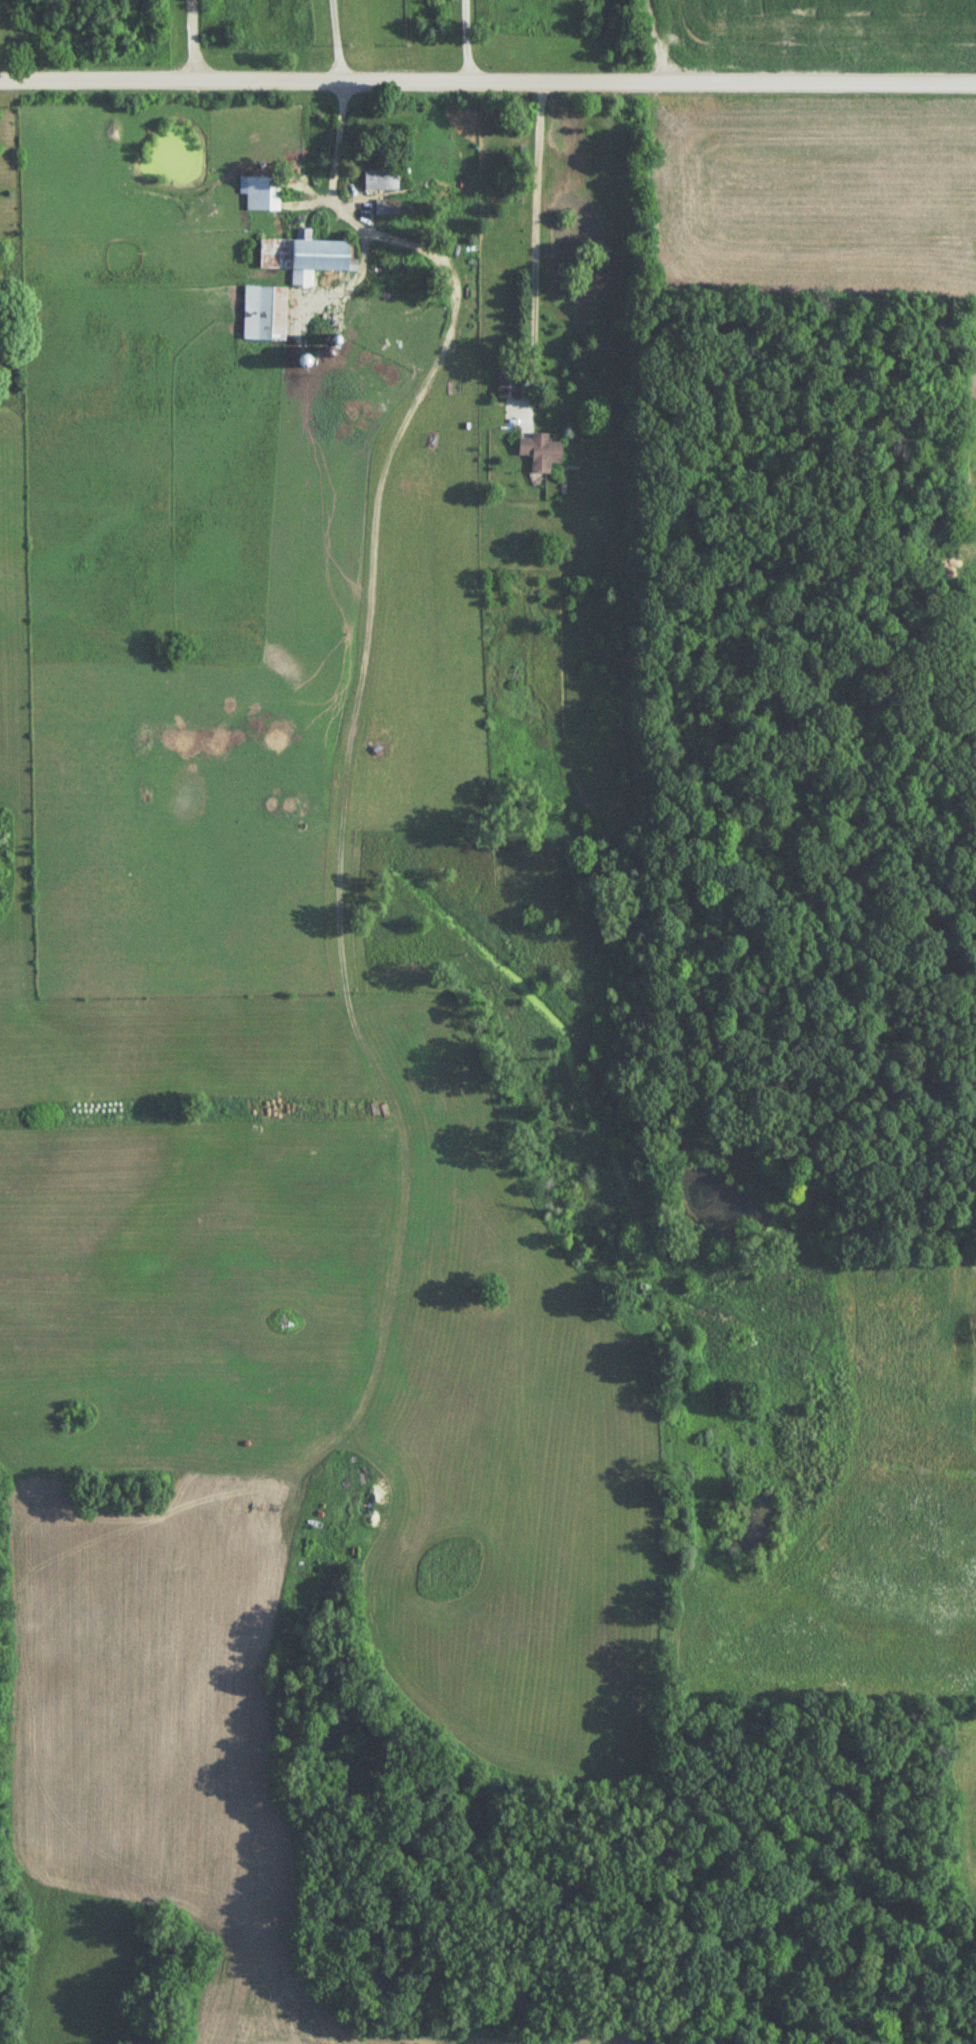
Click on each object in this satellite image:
road: (193, 43)
road: (337, 43)
road: (467, 43)
road: (487, 87)
building: (380, 181)
building: (261, 194)
building: (386, 209)
road: (537, 239)
road: (402, 243)
building: (303, 258)
building: (265, 315)
building: (507, 385)
building: (540, 454)

